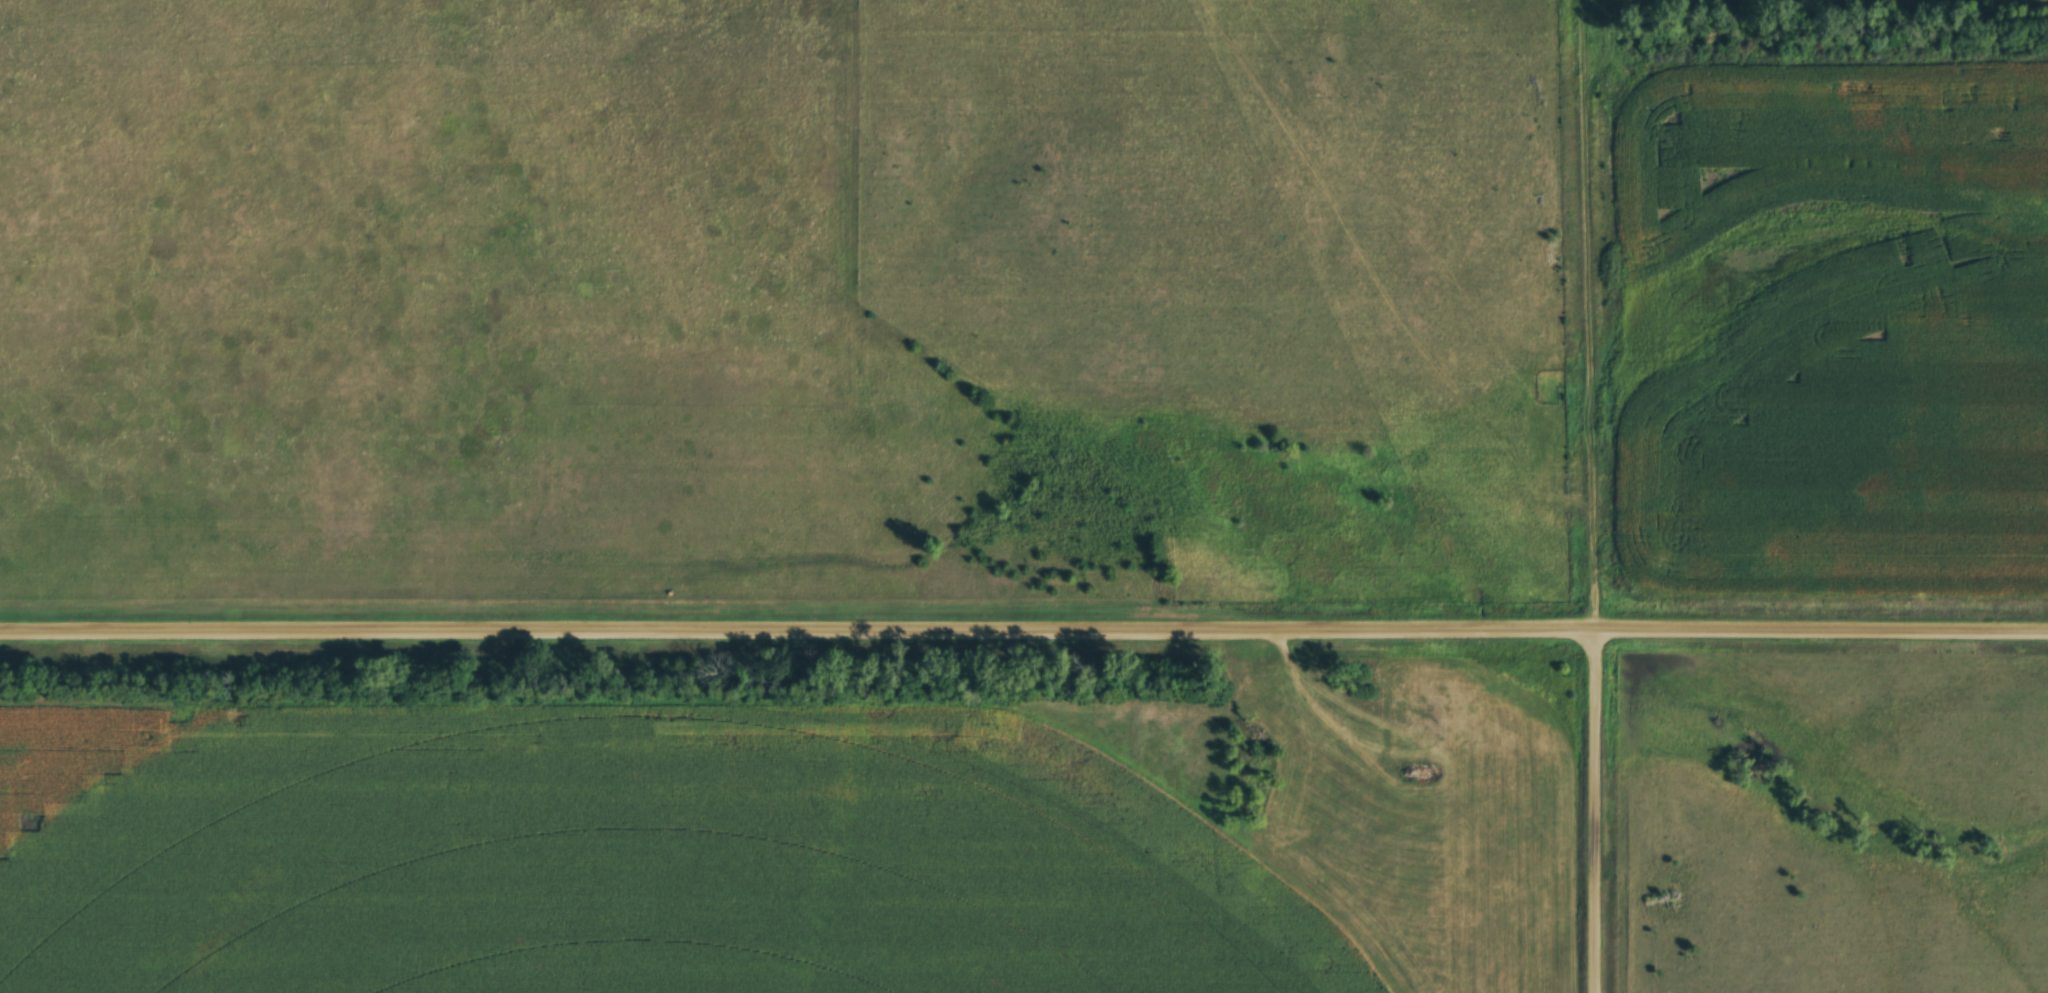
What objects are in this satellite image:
road: (1597, 496)
road: (1024, 631)

